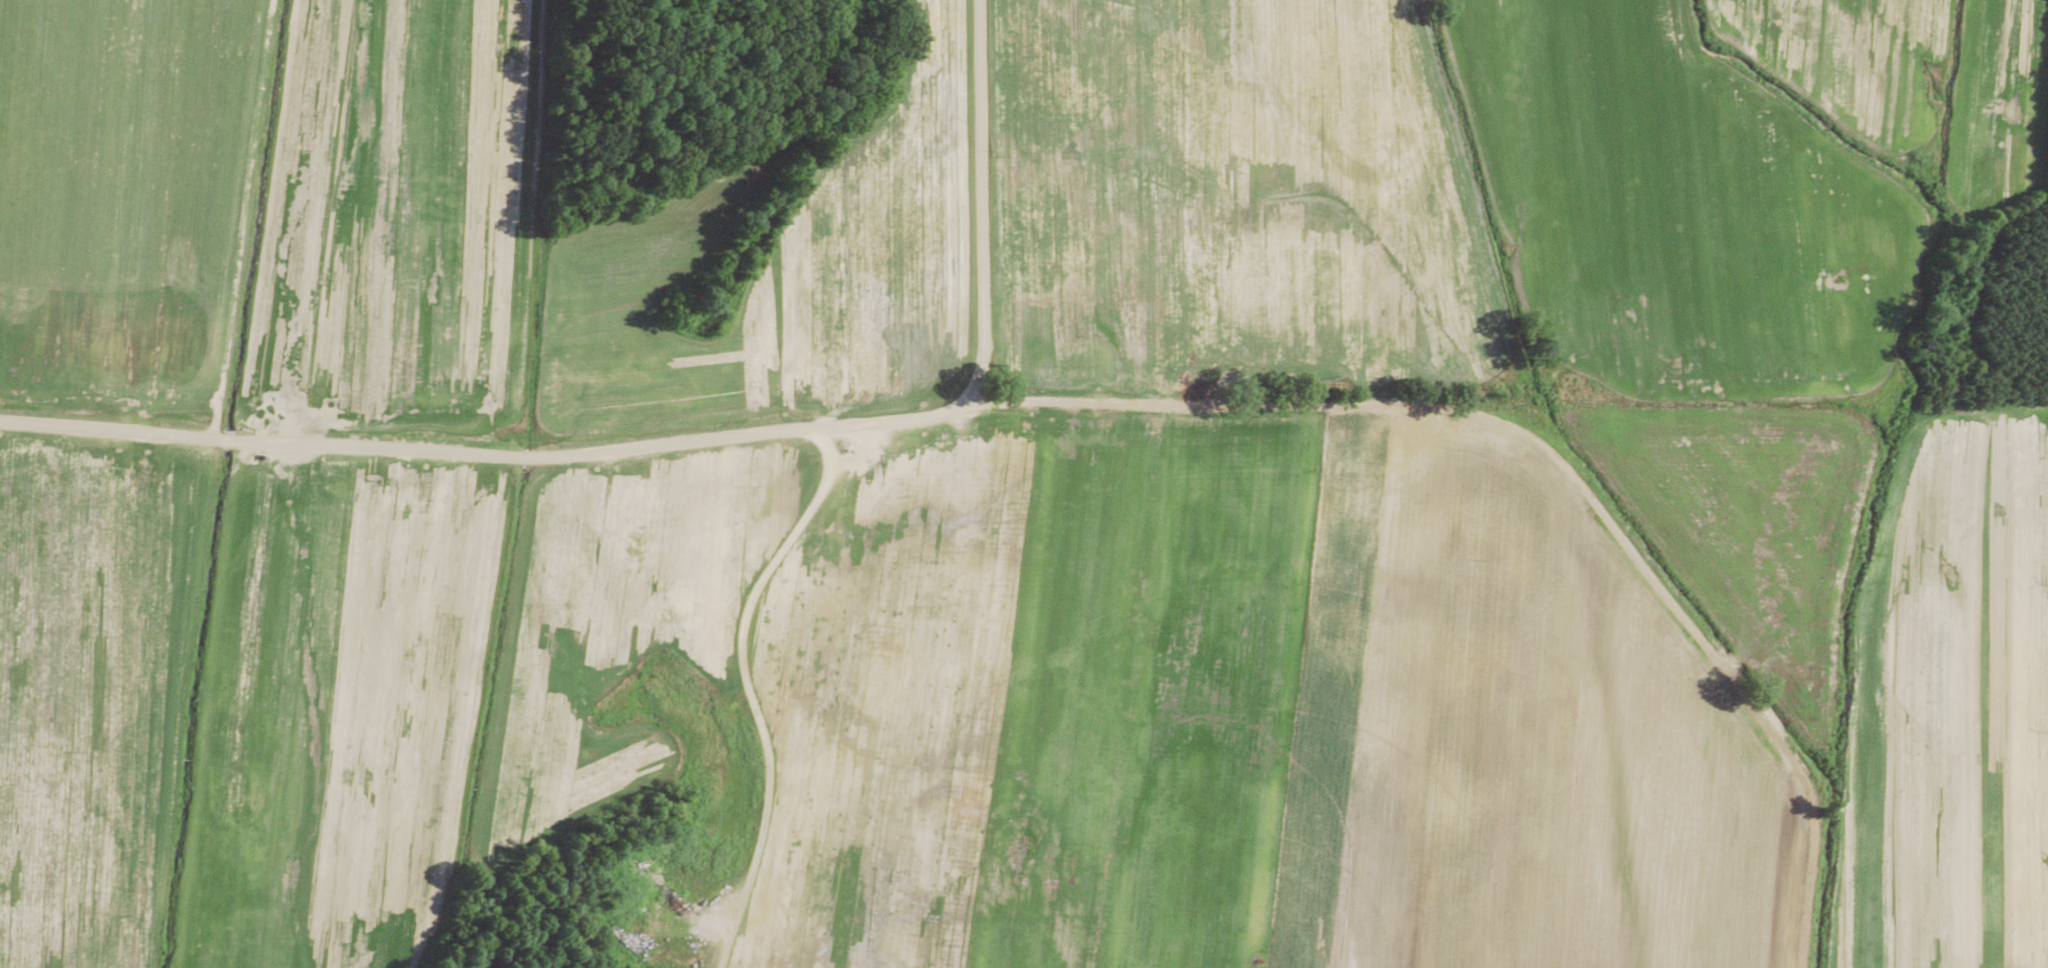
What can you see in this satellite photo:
road: (980, 207)
road: (490, 450)

